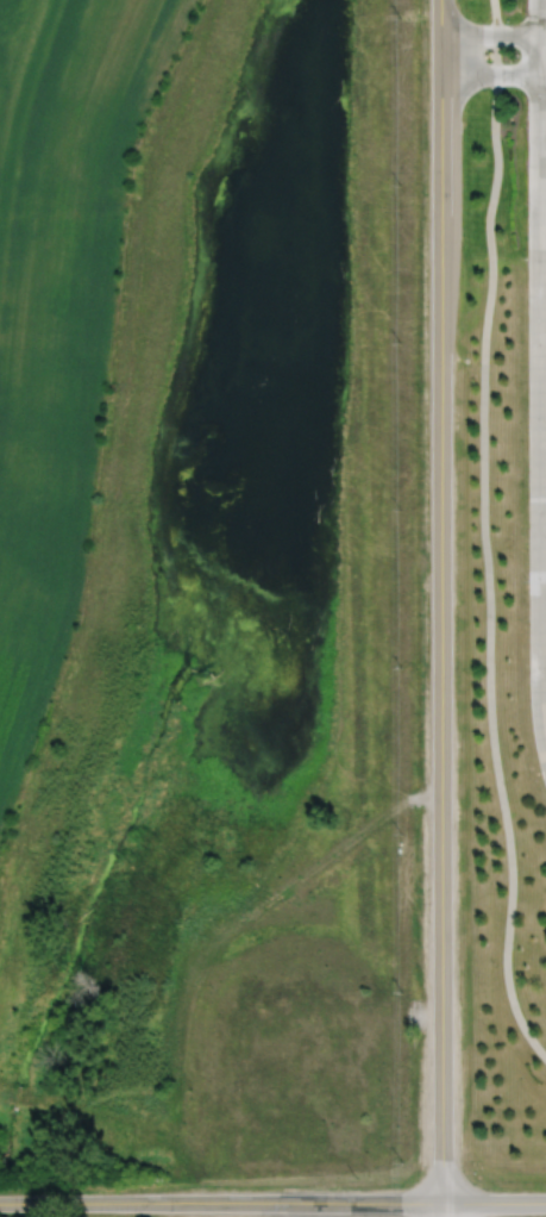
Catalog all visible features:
road: (491, 30)
road: (542, 37)
road: (491, 74)
crop: (61, 307)
road: (534, 411)
road: (485, 533)
road: (441, 599)
park: (222, 611)
road: (272, 1200)
road: (443, 1209)

